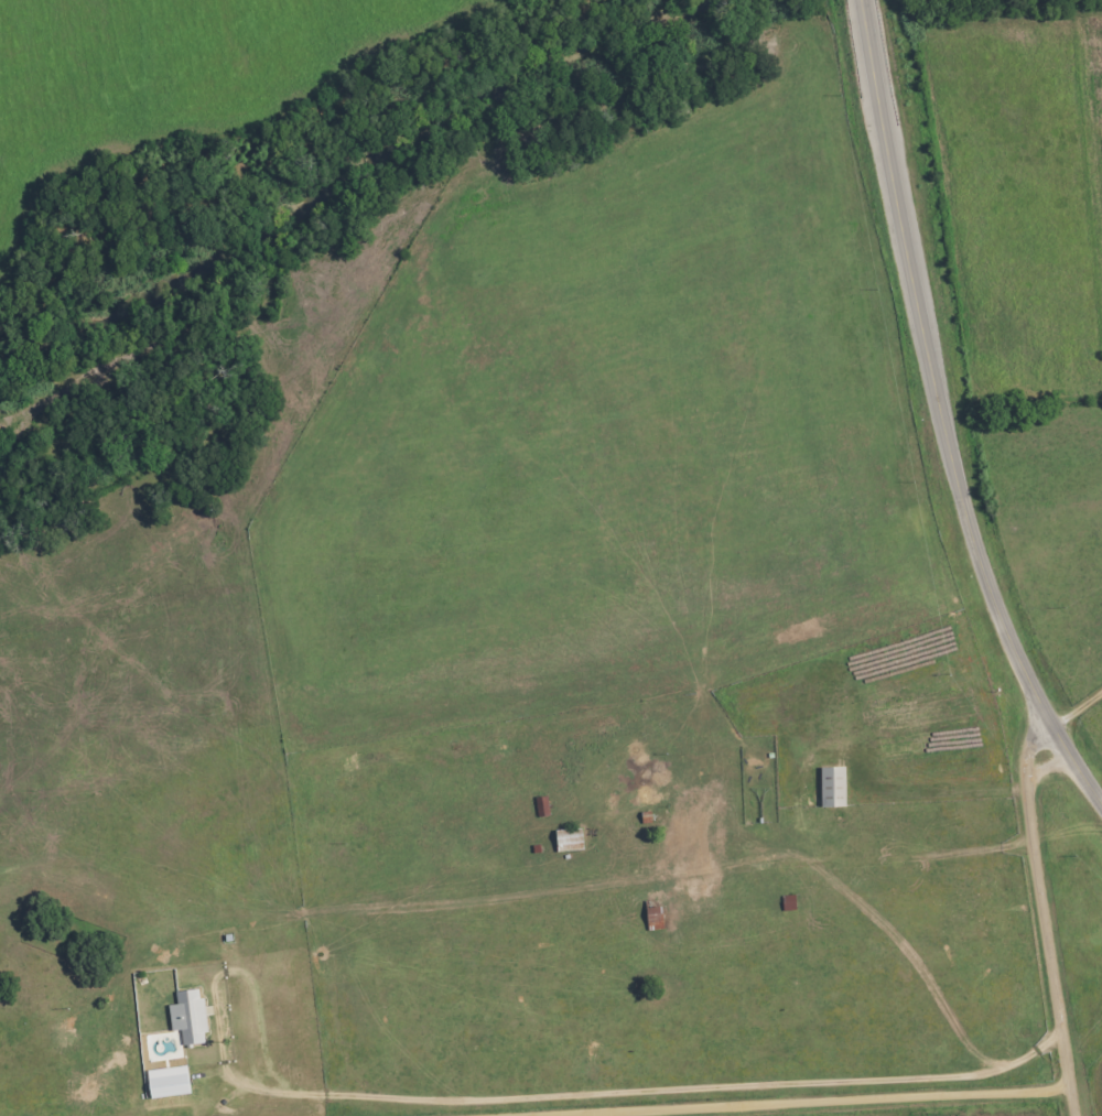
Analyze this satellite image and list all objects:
road: (943, 413)
building: (829, 787)
building: (539, 806)
building: (674, 834)
building: (565, 839)
road: (557, 885)
building: (786, 903)
building: (650, 914)
road: (1045, 918)
building: (185, 1017)
road: (752, 1095)

